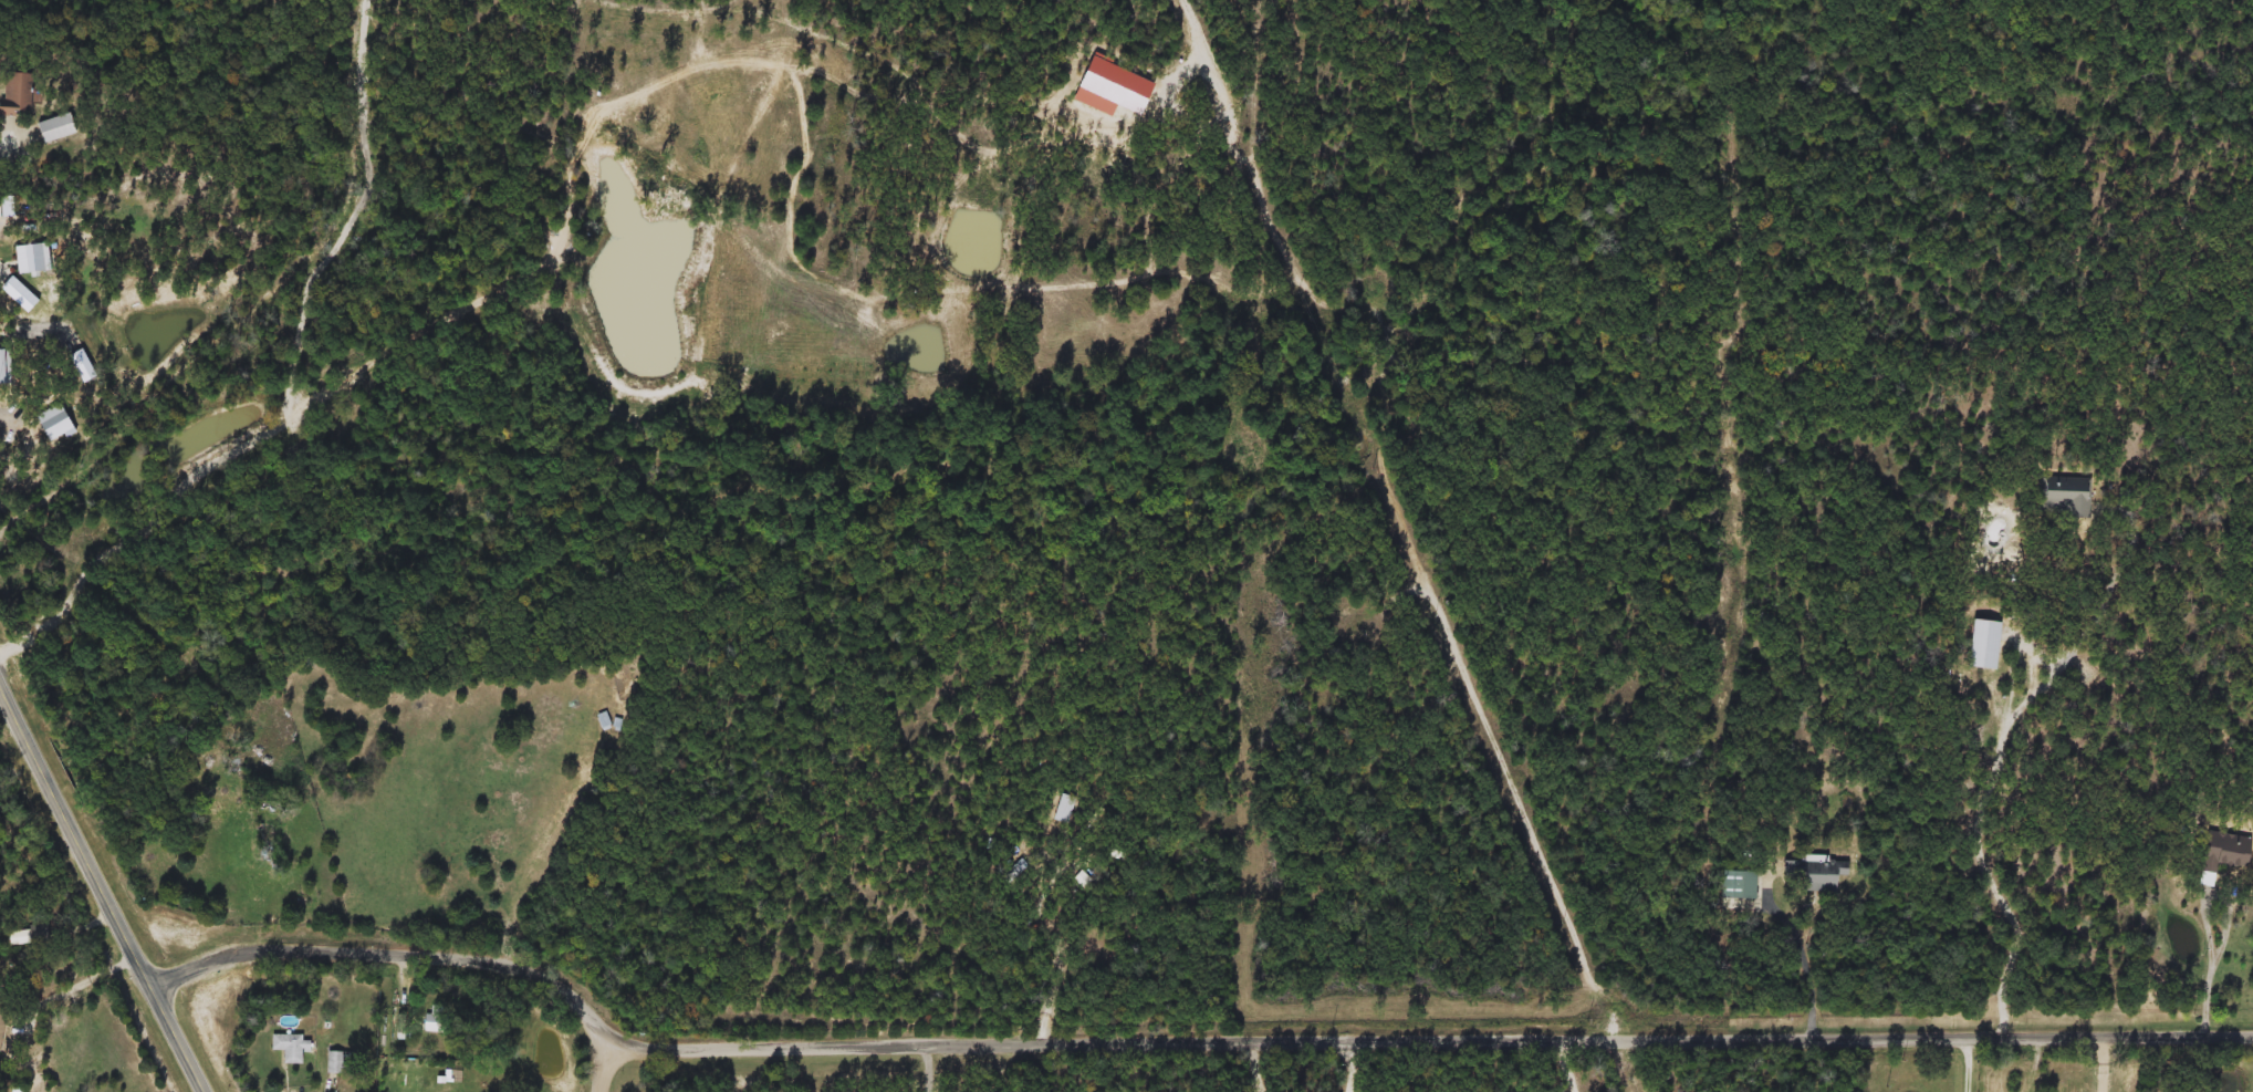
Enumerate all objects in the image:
building: (15, 93)
building: (53, 127)
road: (9, 137)
road: (27, 295)
building: (85, 363)
building: (4, 365)
building: (13, 415)
building: (2065, 497)
building: (1983, 644)
building: (606, 721)
road: (2003, 749)
building: (995, 847)
building: (2221, 855)
building: (1016, 872)
building: (1815, 874)
building: (1083, 878)
road: (101, 890)
building: (306, 896)
road: (2232, 929)
road: (394, 951)
road: (1807, 954)
road: (79, 981)
building: (436, 1020)
building: (2, 1021)
road: (1425, 1034)
building: (292, 1048)
building: (342, 1062)
road: (1567, 1062)
road: (1969, 1062)
road: (2158, 1062)
road: (1350, 1063)
road: (1621, 1063)
road: (928, 1067)
road: (598, 1071)

